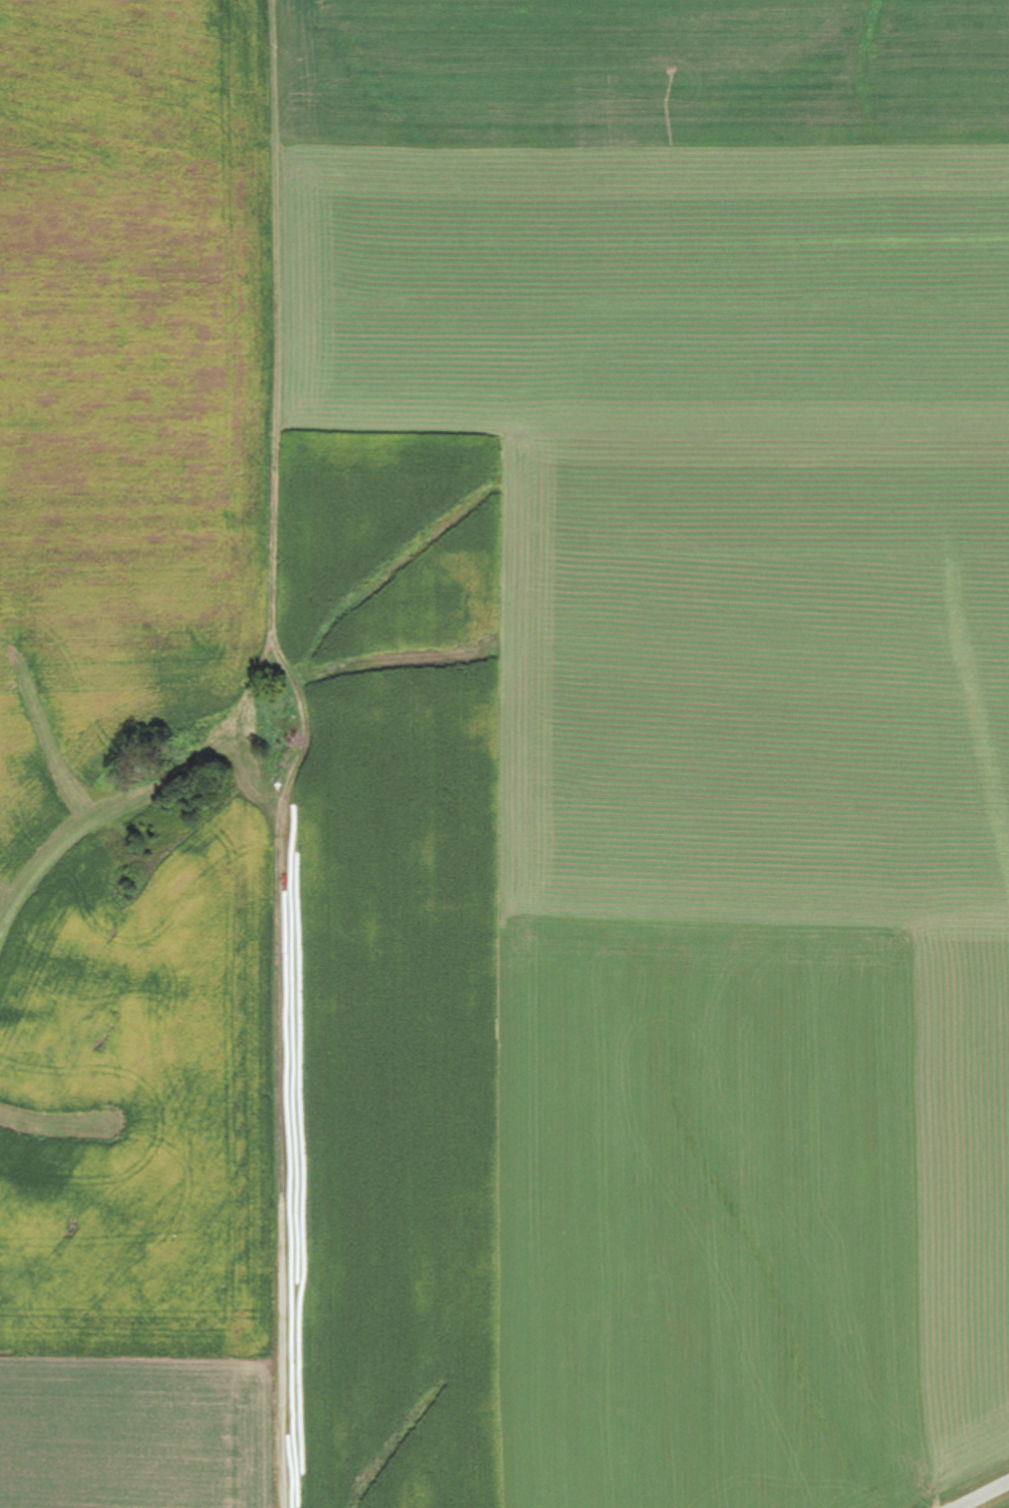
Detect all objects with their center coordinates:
road: (989, 1498)

